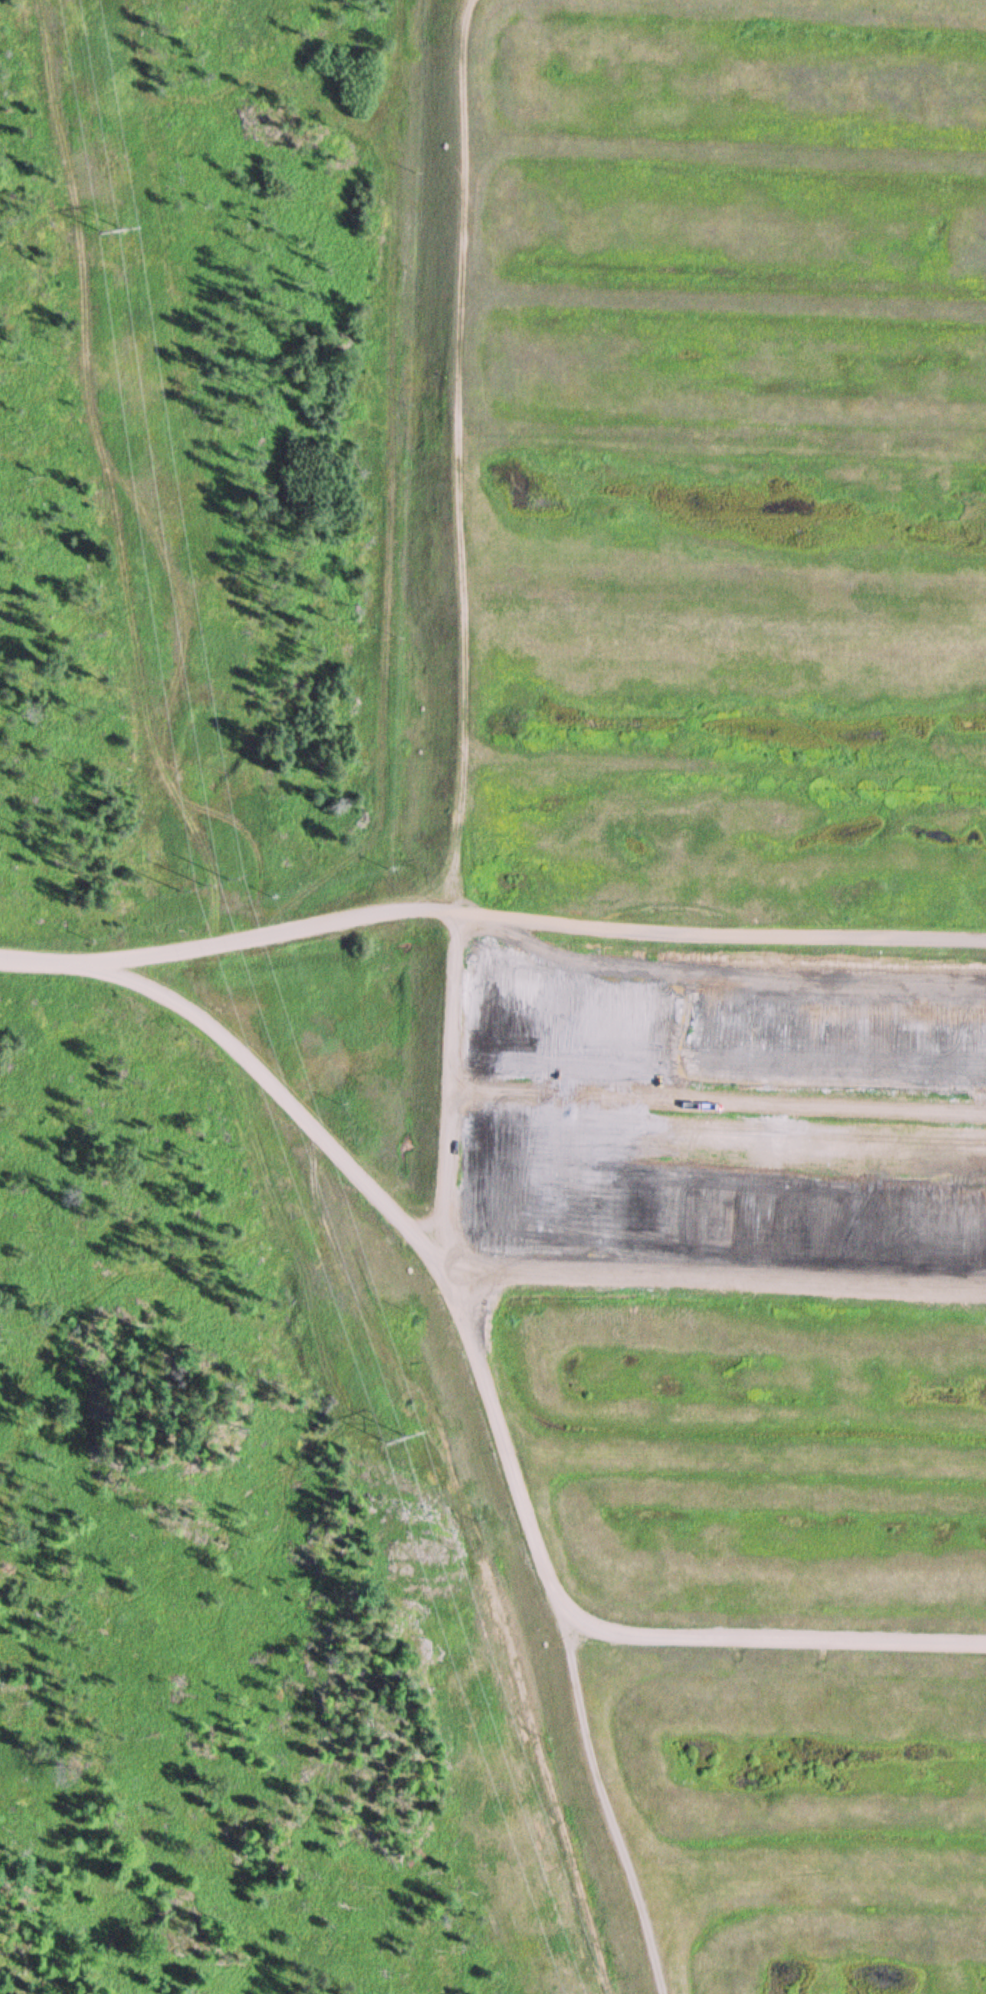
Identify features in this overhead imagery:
power tower: (114, 233)
power tower: (209, 886)
road: (490, 913)
road: (431, 1250)
power tower: (403, 1441)

